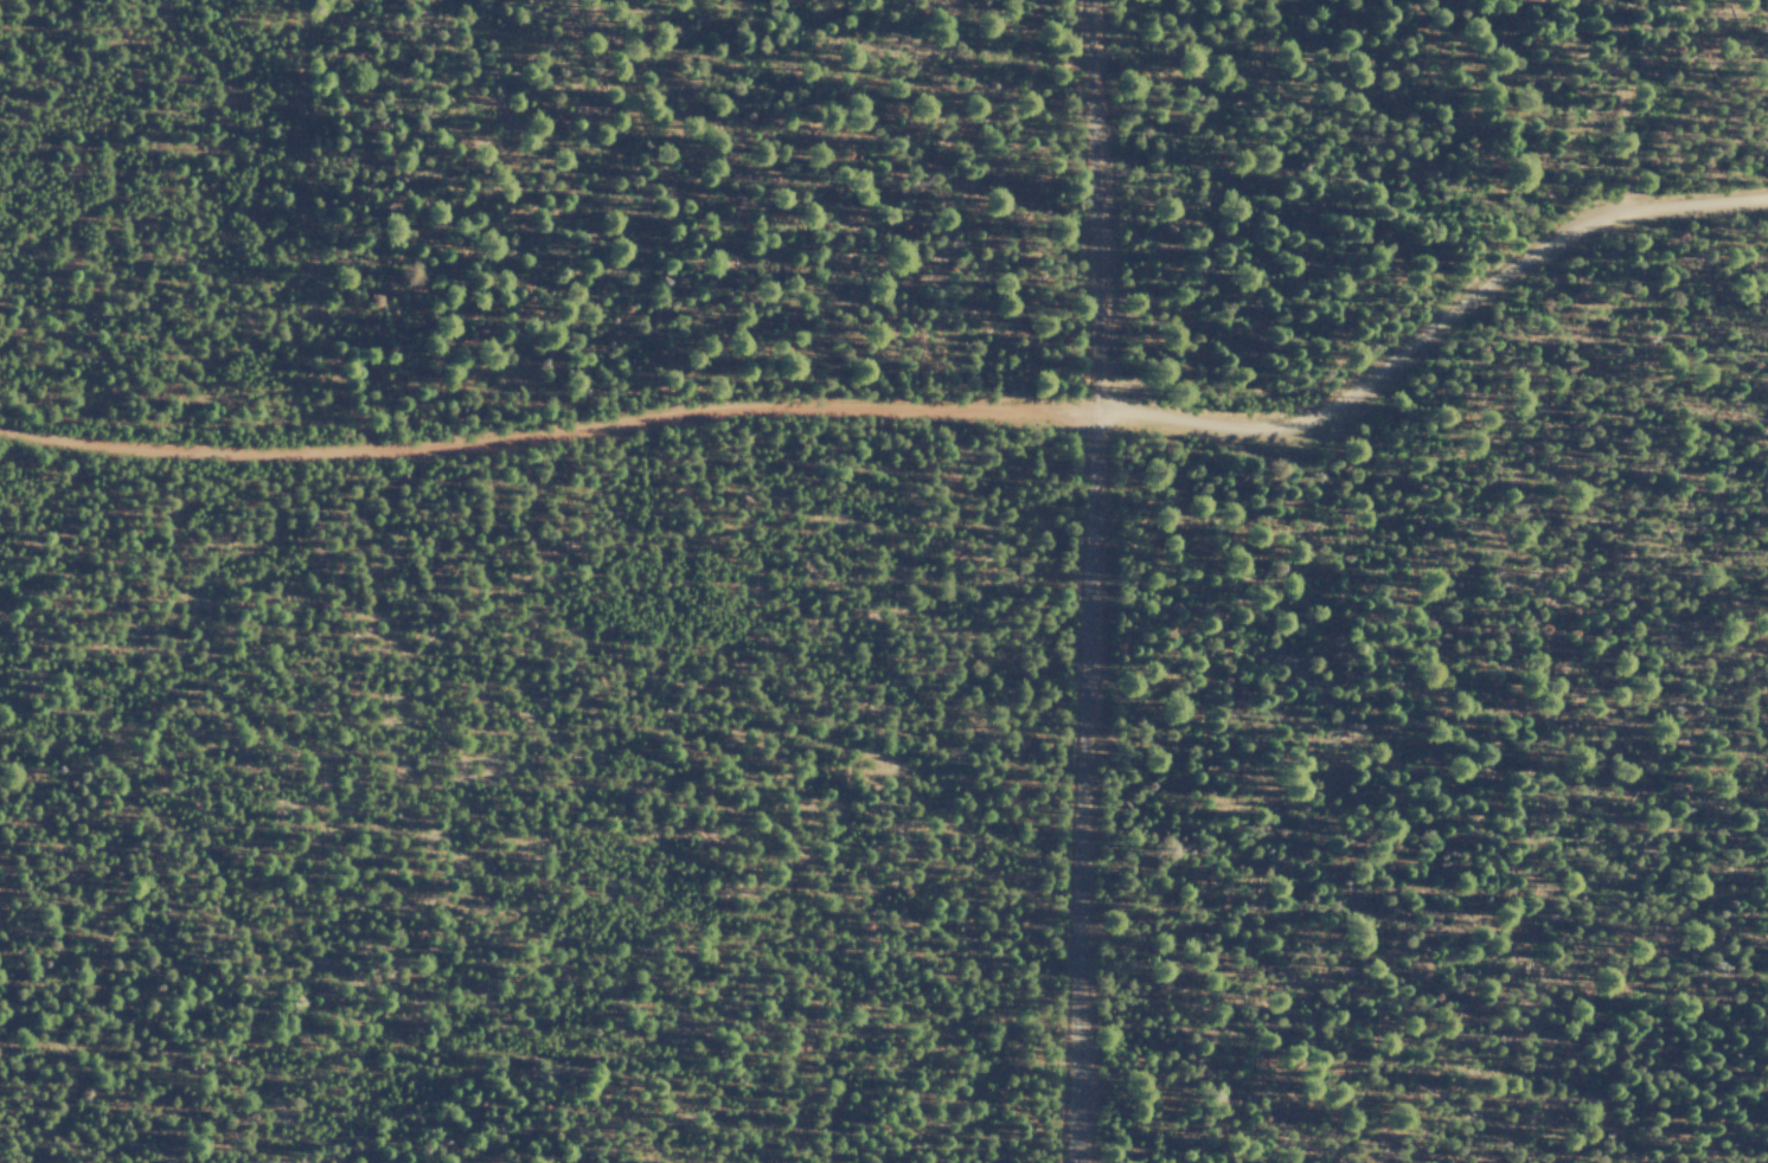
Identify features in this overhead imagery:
road: (1520, 270)

